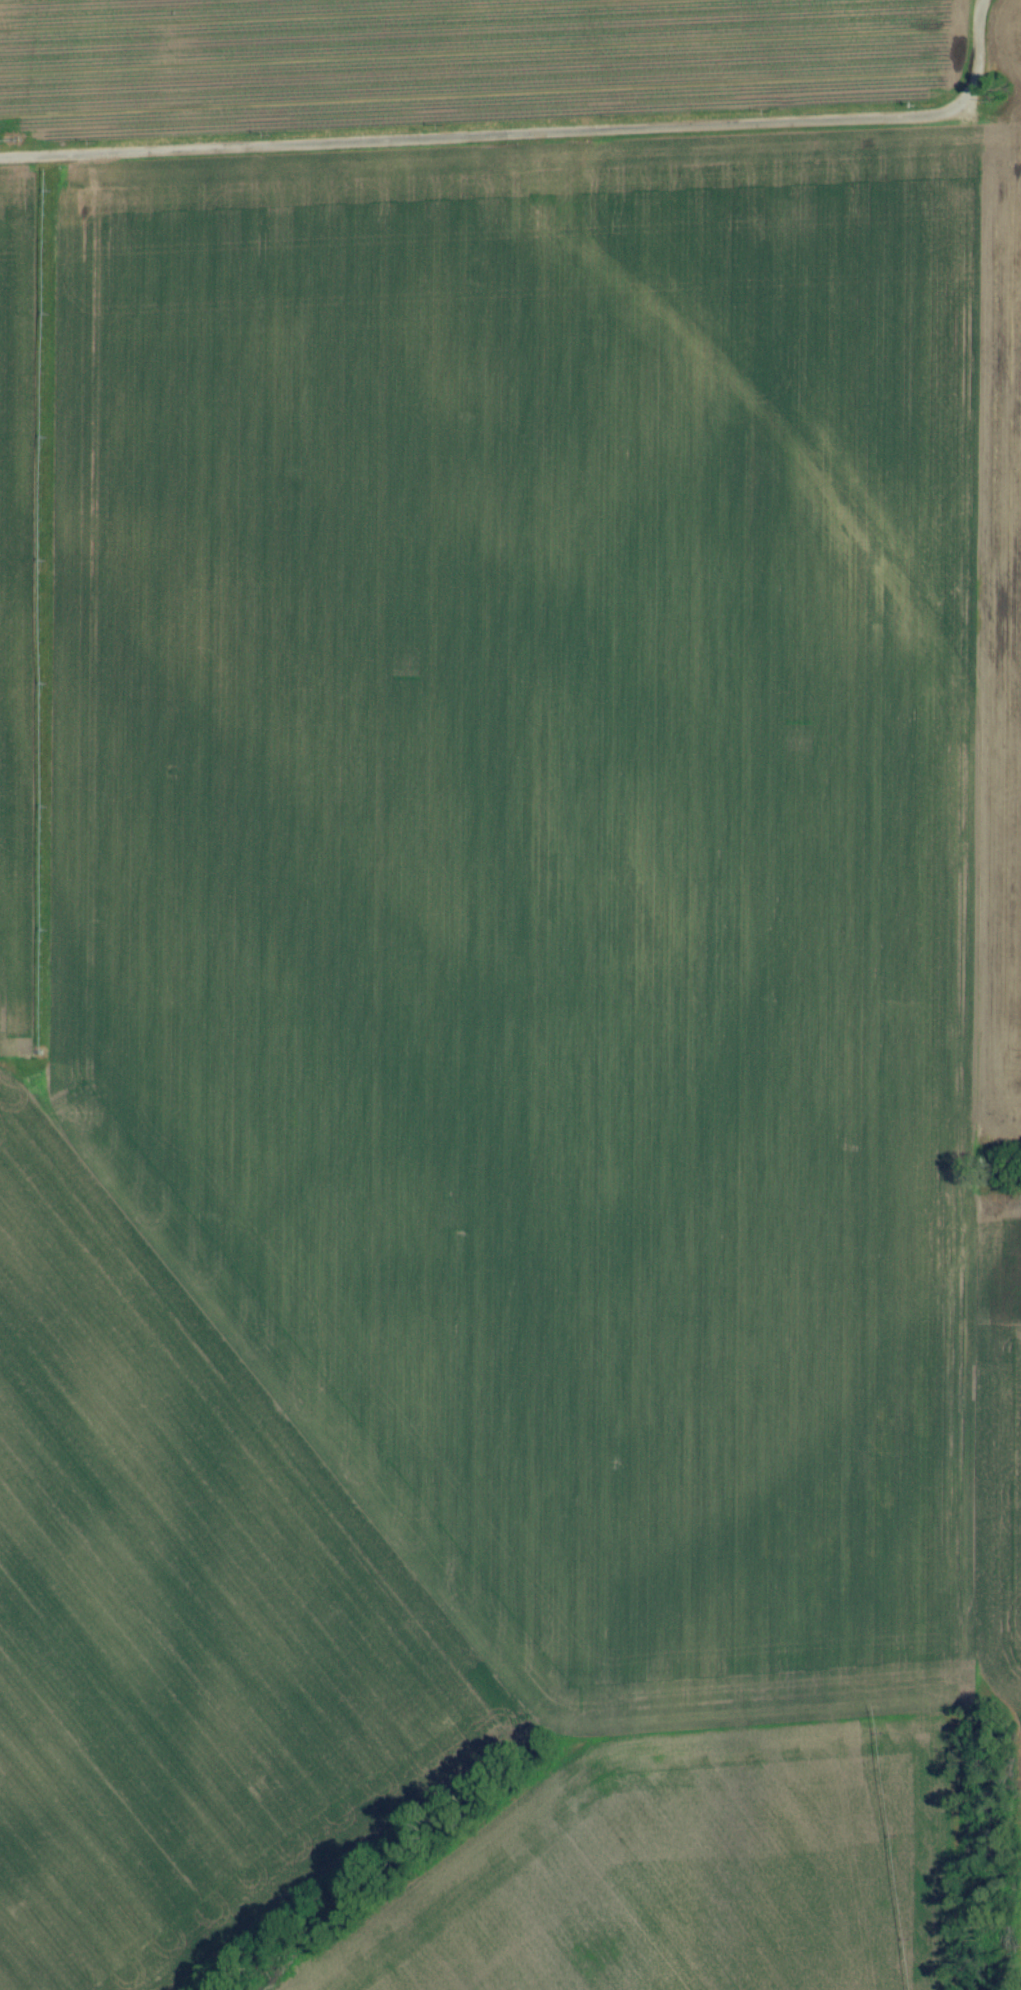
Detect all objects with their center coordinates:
road: (544, 97)

